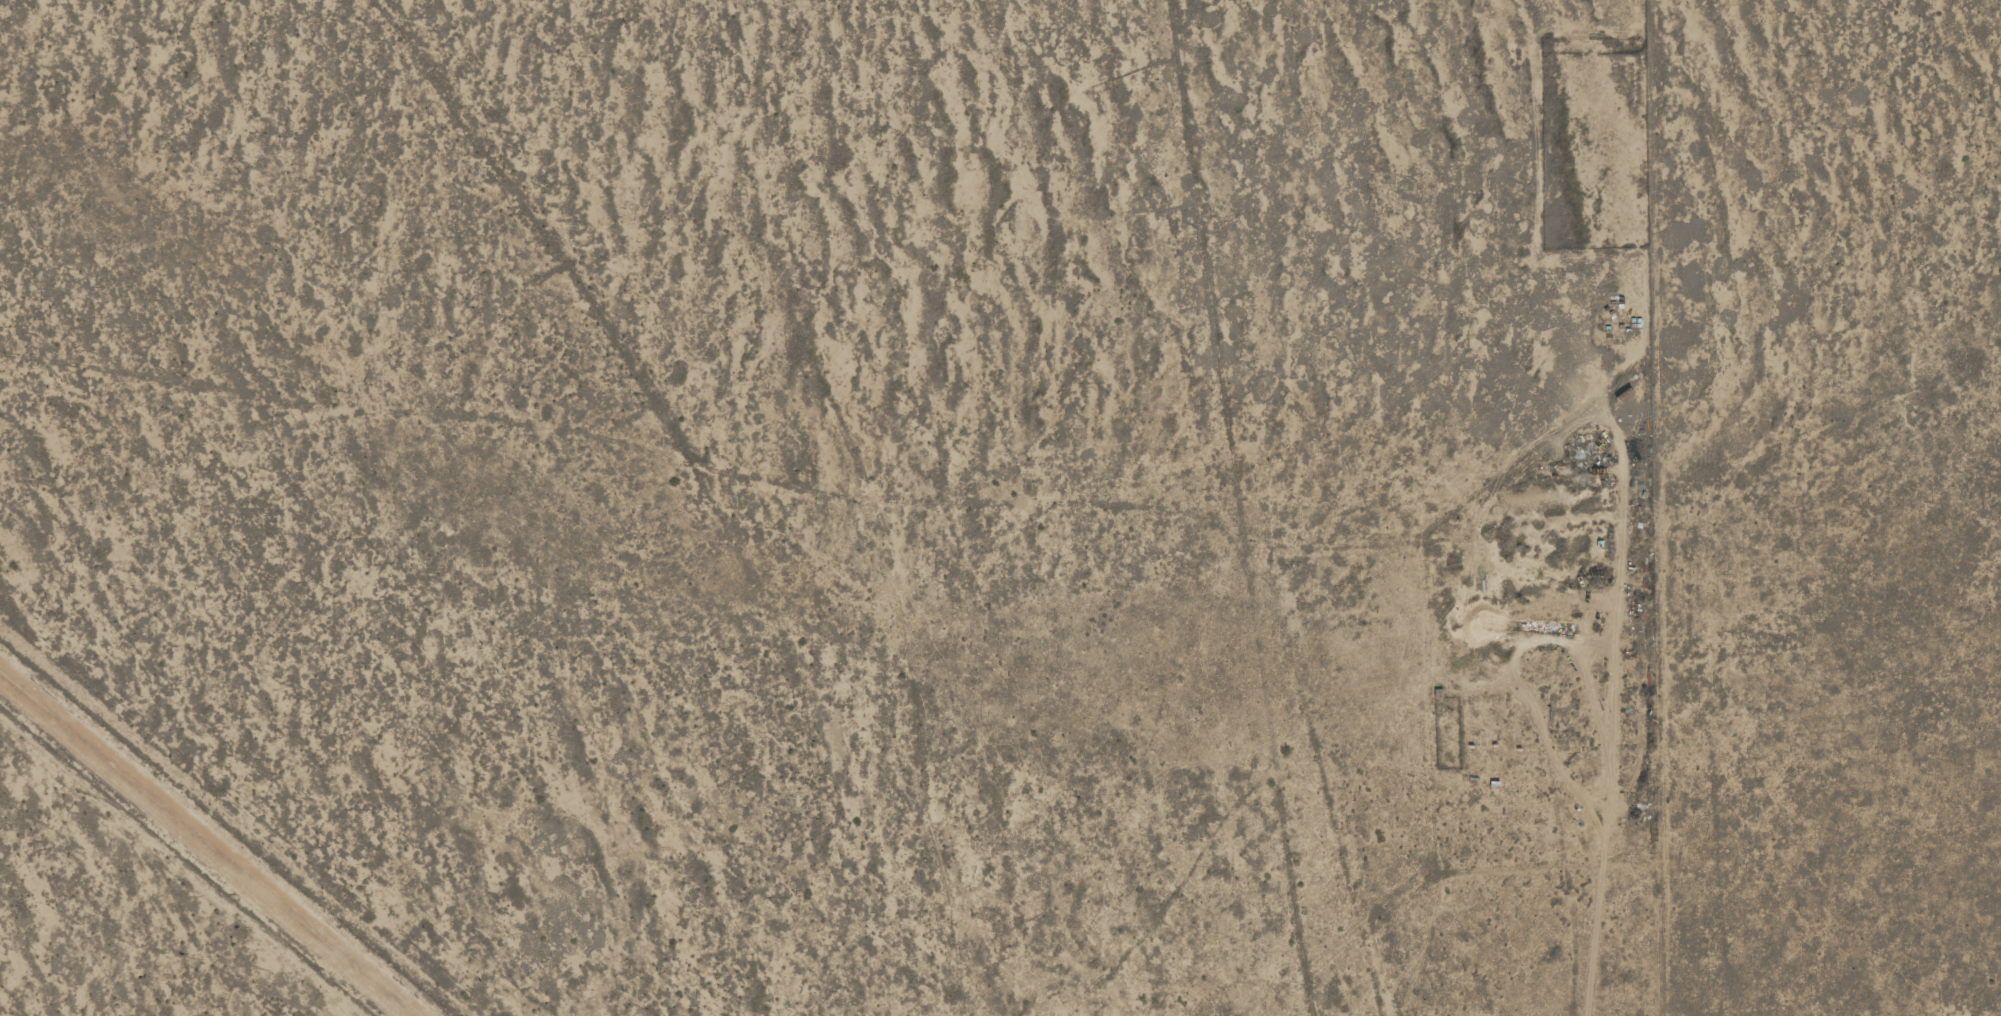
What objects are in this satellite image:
road: (605, 491)
road: (1620, 508)
road: (1214, 509)
airport runway: (209, 841)

